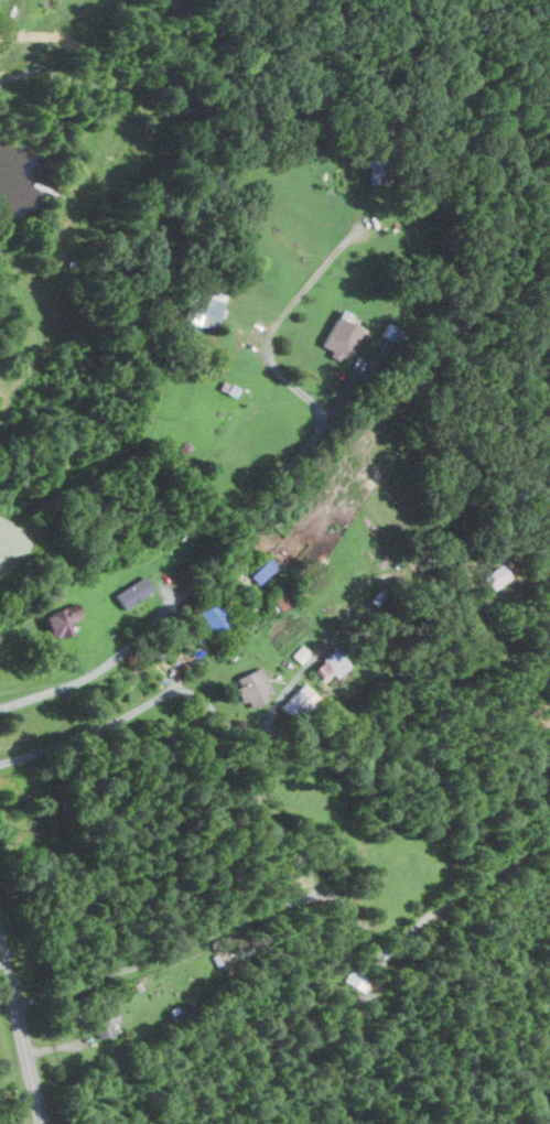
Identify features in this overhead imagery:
building: (202, 307)
building: (335, 333)
road: (258, 506)
building: (490, 576)
building: (128, 591)
building: (209, 616)
building: (53, 620)
building: (325, 664)
building: (248, 684)
road: (172, 692)
building: (292, 701)
road: (229, 927)
road: (1, 955)
building: (99, 1020)
road: (21, 1033)

